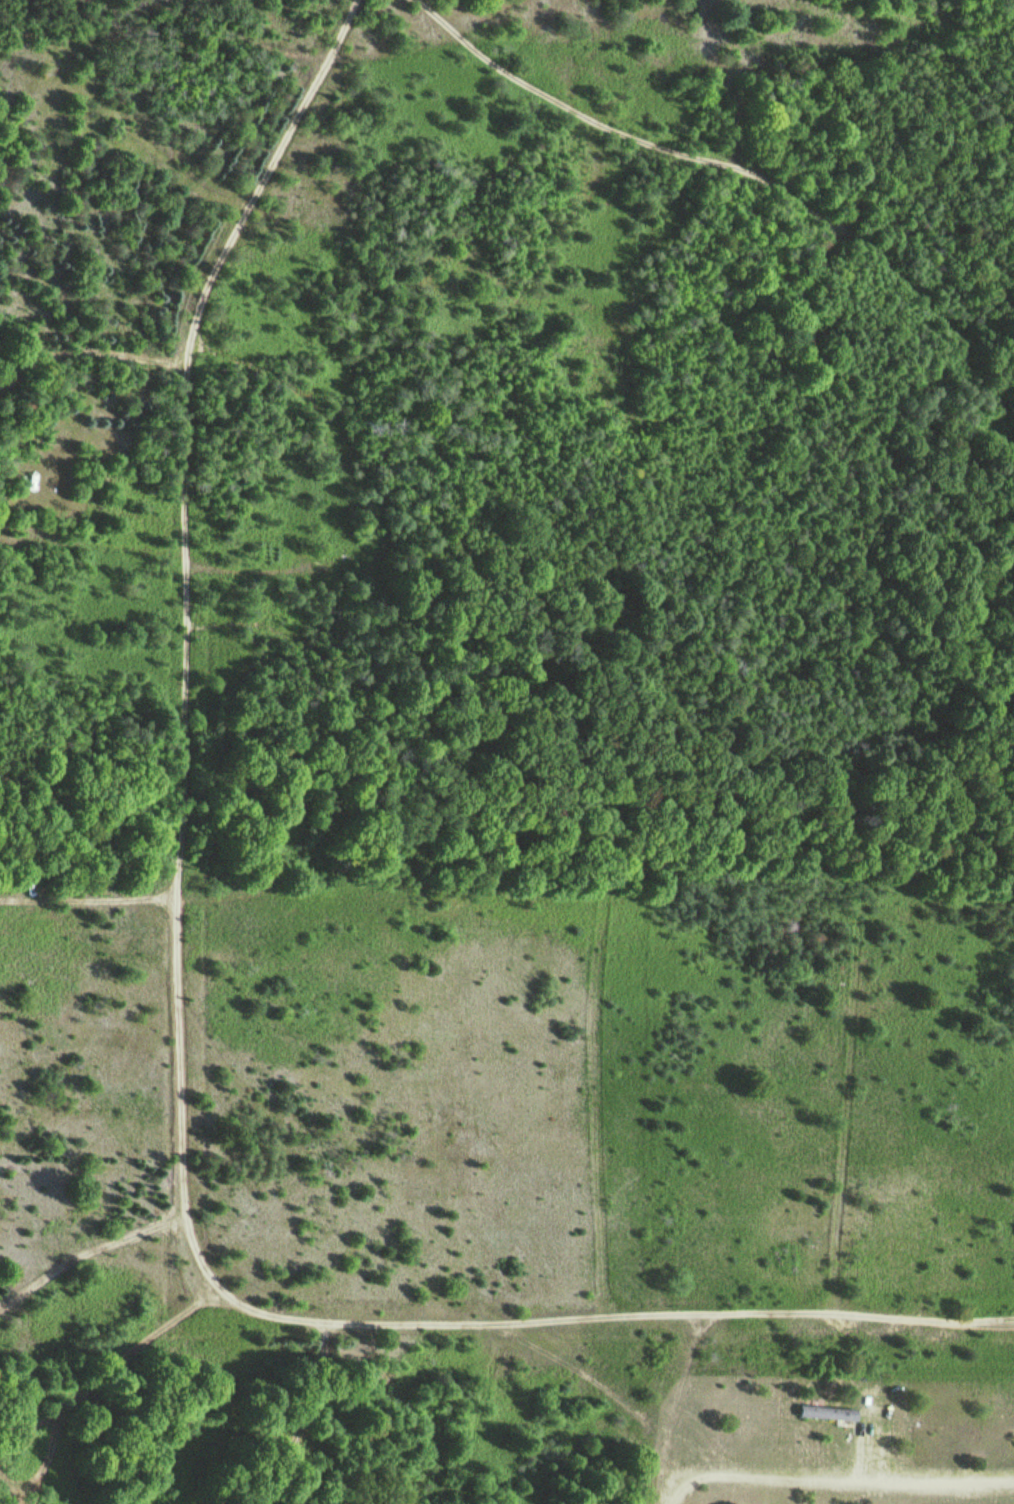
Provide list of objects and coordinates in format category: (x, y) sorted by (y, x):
road: (260, 51)
road: (544, 257)
road: (112, 902)
road: (26, 903)
road: (177, 1093)
road: (692, 1408)
building: (824, 1412)
road: (322, 1415)

